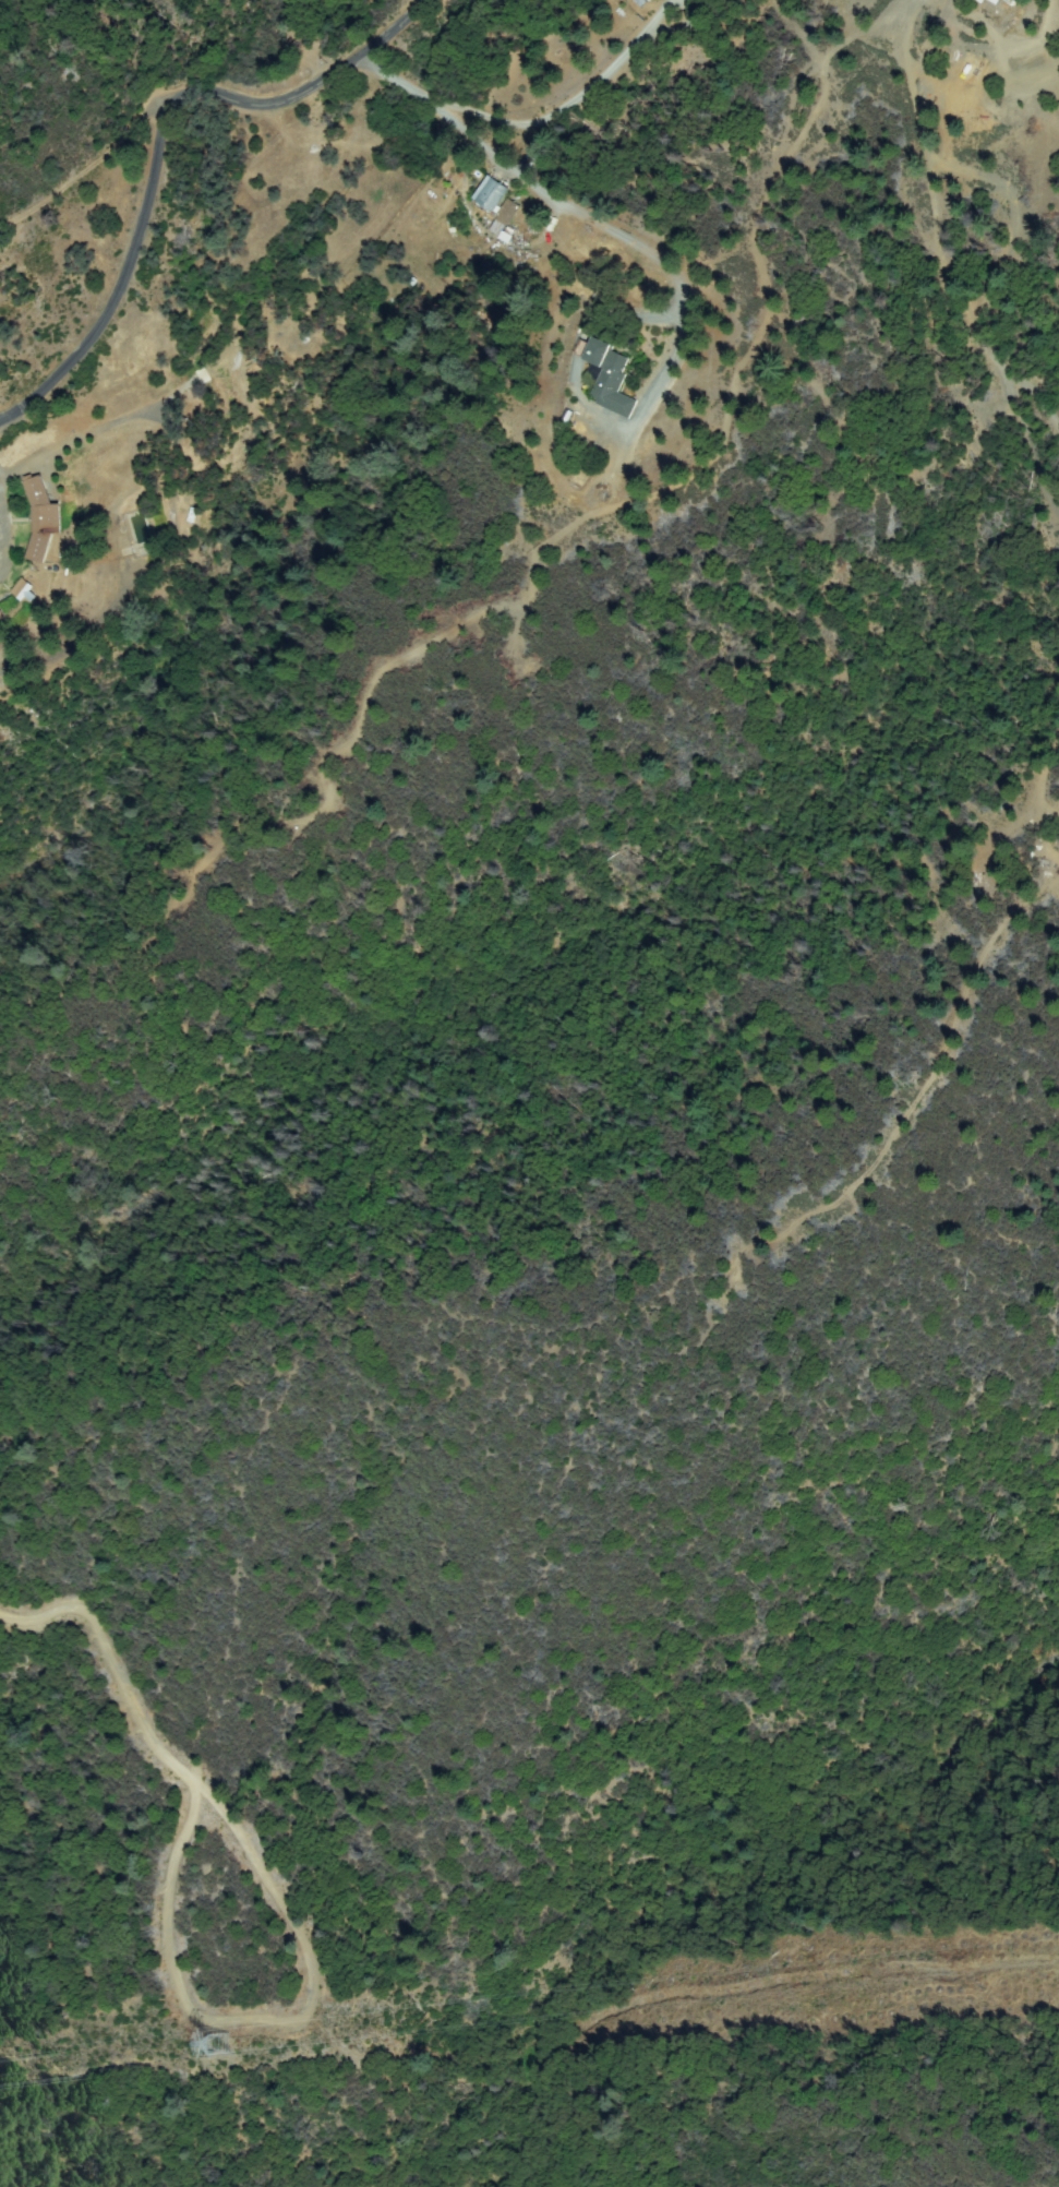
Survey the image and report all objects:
building: (997, 11)
road: (157, 141)
building: (490, 206)
building: (611, 378)
building: (44, 518)
building: (23, 589)
building: (0, 618)
road: (110, 1659)
road: (189, 1998)
building: (216, 2044)
power tower: (217, 2044)

